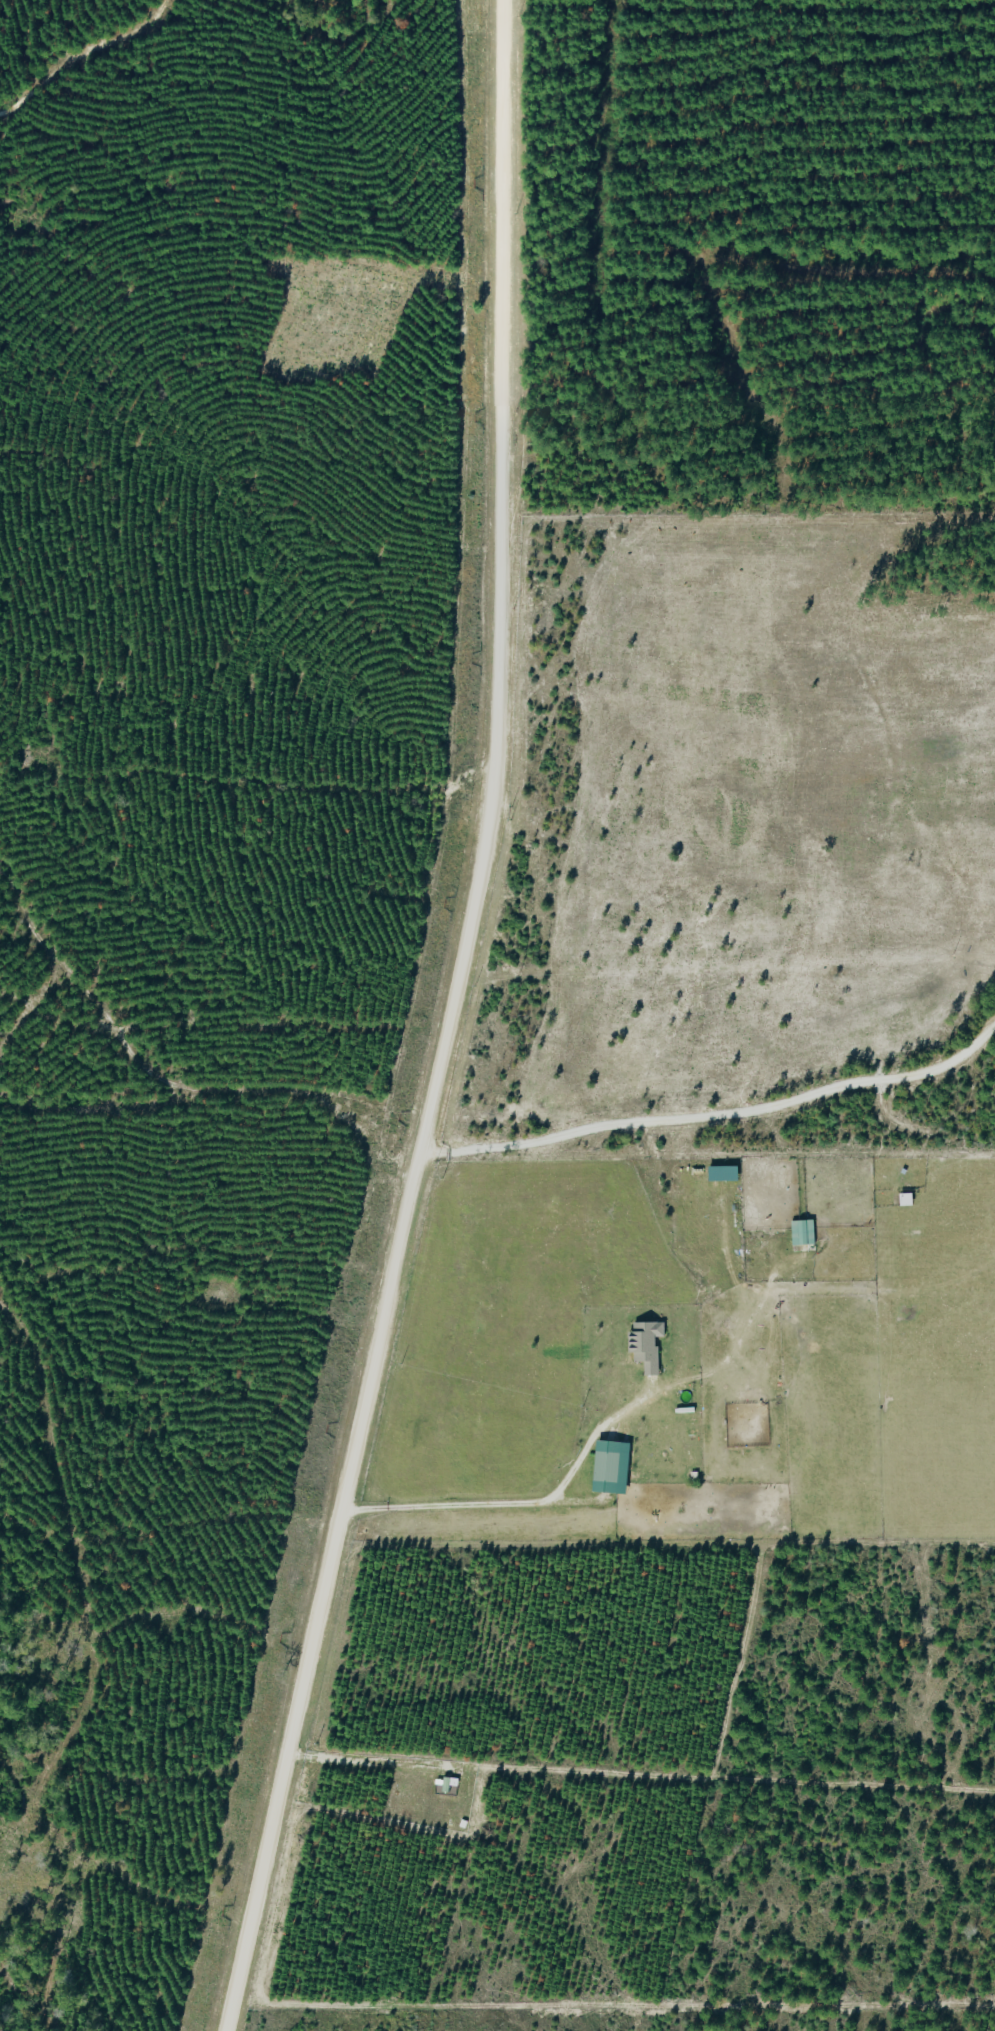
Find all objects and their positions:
road: (437, 1025)

